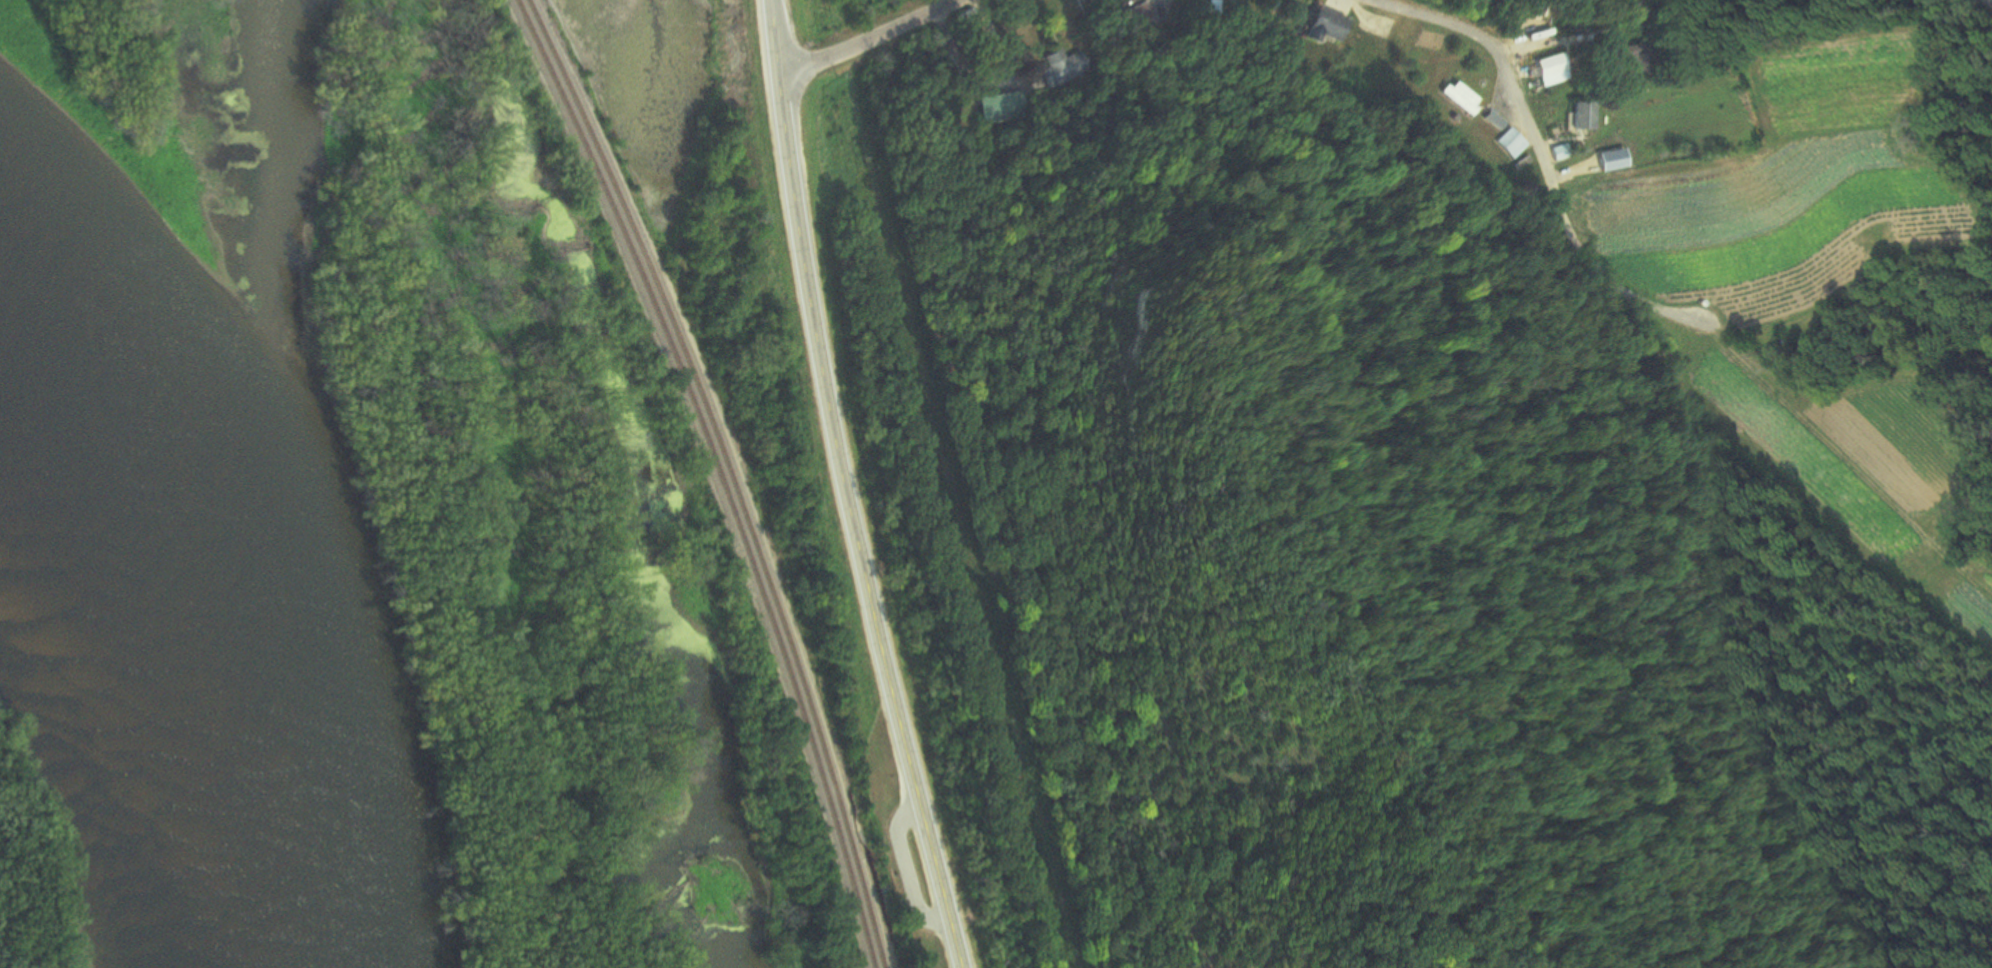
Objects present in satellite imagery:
road: (1988, 2)
building: (1131, 17)
road: (774, 42)
road: (872, 42)
road: (1491, 54)
building: (1057, 68)
building: (999, 109)
road: (1603, 277)
railway: (721, 475)
railway: (731, 475)
road: (853, 529)
river: (194, 651)
parking lot: (909, 868)
road: (908, 874)

